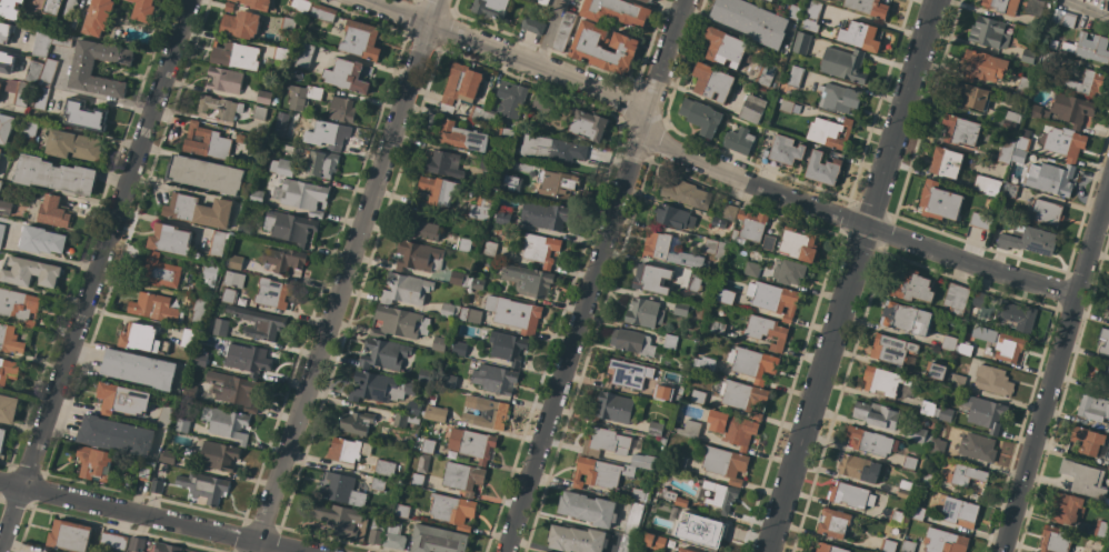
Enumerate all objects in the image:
building: (769, 0)
building: (1108, 0)
building: (647, 1)
building: (542, 2)
building: (256, 3)
building: (300, 6)
building: (1001, 6)
building: (52, 7)
building: (69, 7)
building: (229, 7)
building: (868, 7)
building: (1033, 7)
building: (491, 8)
building: (10, 9)
road: (1087, 9)
building: (143, 10)
building: (616, 11)
building: (792, 11)
building: (322, 12)
building: (811, 16)
building: (97, 17)
building: (1066, 19)
building: (74, 20)
building: (751, 21)
building: (288, 23)
building: (1040, 23)
building: (240, 24)
building: (532, 26)
building: (563, 31)
building: (4, 32)
road: (548, 32)
building: (989, 32)
building: (859, 36)
building: (61, 40)
building: (361, 40)
building: (41, 42)
building: (801, 43)
building: (1052, 43)
building: (723, 47)
building: (603, 48)
building: (1088, 48)
building: (280, 53)
building: (234, 54)
building: (306, 54)
road: (510, 54)
building: (1028, 56)
building: (748, 58)
building: (1048, 58)
building: (6, 62)
building: (843, 64)
building: (981, 67)
building: (81, 70)
building: (33, 72)
building: (47, 73)
building: (766, 73)
building: (347, 76)
building: (224, 80)
building: (791, 81)
building: (712, 82)
building: (1085, 83)
building: (0, 86)
building: (460, 87)
building: (1022, 88)
building: (17, 91)
building: (303, 96)
building: (263, 97)
building: (971, 97)
building: (40, 98)
building: (838, 98)
building: (511, 99)
building: (539, 102)
building: (789, 107)
building: (219, 108)
building: (752, 109)
building: (1072, 109)
building: (342, 110)
building: (1037, 111)
building: (259, 113)
building: (477, 113)
building: (83, 116)
building: (489, 117)
building: (701, 117)
building: (1010, 120)
building: (588, 124)
building: (6, 128)
building: (28, 130)
building: (960, 130)
building: (829, 132)
building: (331, 134)
building: (506, 134)
building: (462, 137)
building: (739, 141)
building: (207, 142)
building: (254, 142)
building: (1022, 143)
building: (1065, 143)
building: (72, 145)
building: (552, 149)
building: (0, 150)
building: (783, 151)
building: (1006, 151)
building: (1018, 155)
building: (946, 162)
building: (322, 163)
building: (442, 163)
building: (282, 167)
building: (823, 168)
building: (204, 174)
building: (54, 175)
building: (1052, 180)
building: (0, 183)
building: (510, 183)
building: (556, 183)
building: (992, 189)
building: (439, 190)
building: (1010, 191)
building: (686, 193)
building: (302, 195)
building: (257, 197)
building: (939, 201)
building: (6, 207)
building: (480, 210)
building: (198, 211)
building: (729, 211)
building: (52, 212)
building: (1047, 212)
building: (544, 215)
building: (673, 217)
building: (502, 219)
building: (980, 221)
road: (853, 222)
building: (718, 223)
building: (420, 225)
building: (289, 227)
building: (749, 227)
building: (244, 229)
building: (1, 232)
building: (170, 239)
building: (42, 241)
building: (1029, 241)
building: (768, 242)
building: (217, 243)
building: (464, 244)
building: (799, 244)
building: (715, 248)
building: (490, 249)
building: (540, 249)
building: (669, 250)
building: (419, 257)
building: (284, 259)
building: (234, 261)
building: (751, 269)
building: (30, 272)
building: (158, 272)
building: (790, 272)
road: (93, 274)
road: (596, 274)
building: (209, 275)
road: (348, 275)
road: (850, 275)
building: (459, 279)
building: (651, 279)
building: (233, 280)
building: (527, 280)
building: (693, 281)
building: (476, 283)
building: (911, 288)
building: (406, 289)
building: (272, 293)
building: (228, 295)
building: (723, 295)
building: (956, 298)
building: (772, 299)
building: (979, 299)
building: (19, 305)
building: (154, 308)
building: (682, 309)
building: (449, 310)
building: (198, 311)
building: (514, 313)
building: (643, 313)
building: (470, 315)
building: (1015, 315)
building: (1108, 315)
building: (906, 318)
building: (259, 323)
building: (399, 323)
building: (1108, 324)
building: (220, 328)
building: (717, 329)
building: (766, 331)
building: (142, 339)
building: (188, 339)
building: (10, 340)
building: (670, 341)
building: (632, 342)
building: (948, 343)
building: (1107, 343)
building: (438, 344)
building: (508, 348)
building: (1009, 348)
building: (459, 349)
building: (891, 349)
building: (965, 349)
building: (383, 354)
building: (243, 357)
building: (200, 360)
building: (705, 363)
building: (752, 363)
road: (1055, 367)
building: (139, 369)
building: (9, 370)
building: (936, 371)
building: (1100, 373)
building: (627, 374)
building: (424, 375)
building: (494, 379)
building: (992, 380)
building: (449, 381)
building: (883, 381)
building: (957, 382)
building: (380, 388)
building: (232, 390)
building: (189, 391)
building: (662, 394)
building: (698, 397)
building: (743, 397)
building: (122, 399)
building: (613, 408)
building: (927, 408)
building: (1093, 408)
building: (8, 409)
building: (413, 409)
building: (484, 412)
building: (985, 412)
building: (436, 414)
building: (876, 414)
building: (946, 415)
building: (163, 416)
building: (403, 420)
building: (356, 423)
building: (229, 424)
building: (182, 425)
building: (1107, 428)
building: (655, 429)
building: (690, 429)
building: (732, 429)
building: (116, 435)
building: (920, 436)
building: (2, 438)
building: (662, 441)
building: (1089, 441)
building: (605, 442)
building: (871, 442)
building: (472, 444)
building: (423, 445)
building: (938, 446)
building: (977, 446)
building: (348, 450)
building: (218, 455)
building: (169, 456)
building: (642, 461)
building: (909, 462)
building: (94, 463)
building: (422, 463)
building: (681, 463)
building: (725, 463)
building: (859, 468)
building: (384, 469)
building: (144, 471)
building: (600, 473)
building: (967, 475)
building: (462, 478)
building: (1085, 479)
building: (417, 480)
building: (927, 480)
building: (378, 484)
building: (157, 486)
building: (203, 488)
building: (905, 489)
building: (342, 490)
building: (639, 495)
building: (720, 495)
building: (850, 495)
building: (672, 498)
building: (978, 499)
building: (587, 509)
building: (1067, 509)
building: (401, 511)
building: (452, 511)
building: (956, 511)
building: (672, 513)
building: (918, 513)
road: (149, 516)
building: (899, 518)
building: (633, 519)
building: (341, 521)
building: (836, 523)
building: (376, 530)
building: (1101, 530)
building: (706, 532)
building: (69, 535)
building: (393, 538)
building: (1056, 539)
building: (437, 540)
building: (577, 540)
building: (113, 541)
building: (652, 541)
building: (945, 541)
building: (626, 544)
building: (888, 545)
building: (151, 546)
building: (908, 546)
building: (830, 549)
building: (685, 550)
building: (38, 551)

